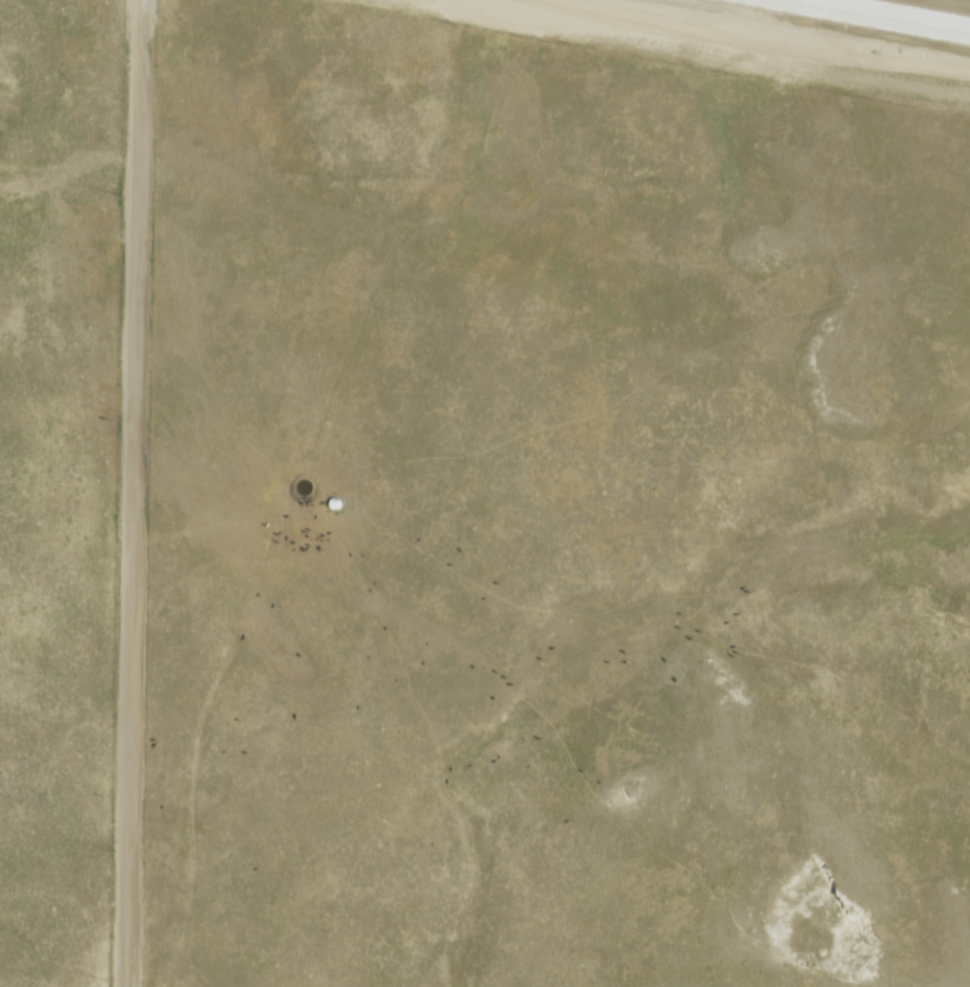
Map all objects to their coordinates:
road: (889, 14)

